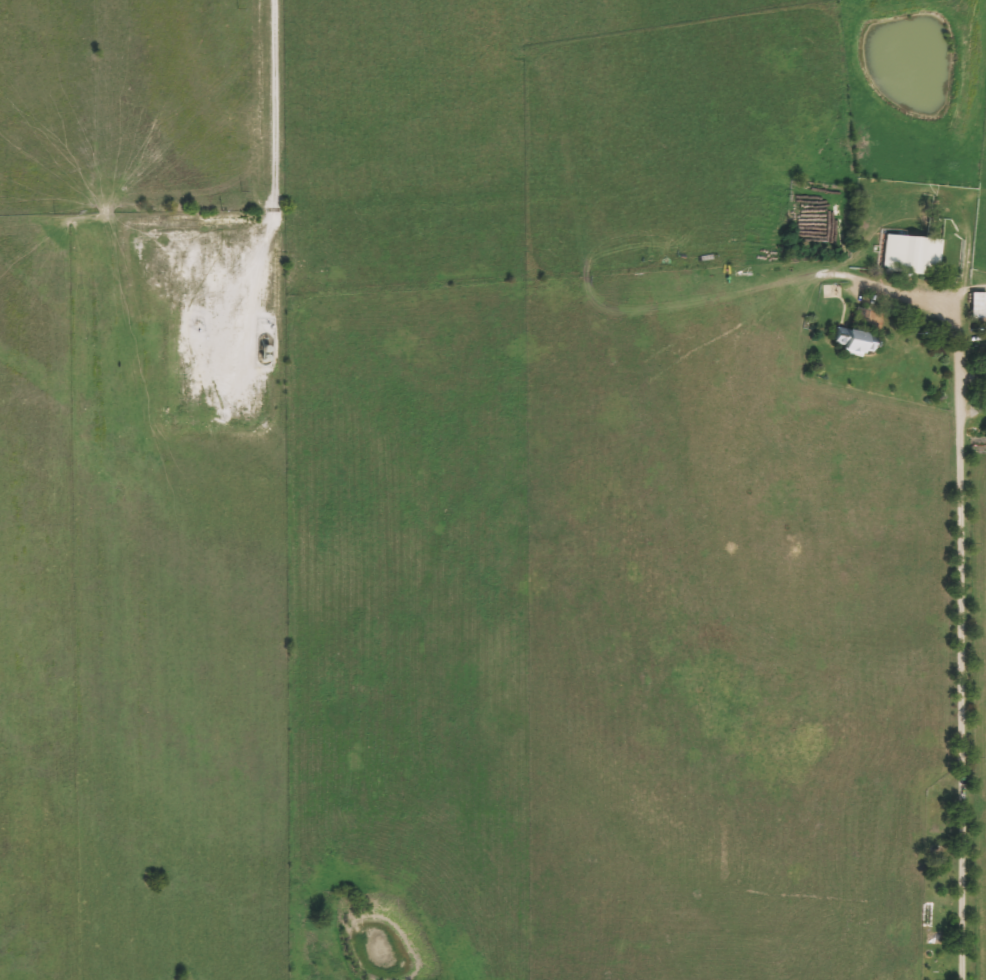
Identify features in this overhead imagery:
building: (909, 256)
building: (975, 306)
building: (850, 342)
building: (982, 383)
road: (958, 603)

